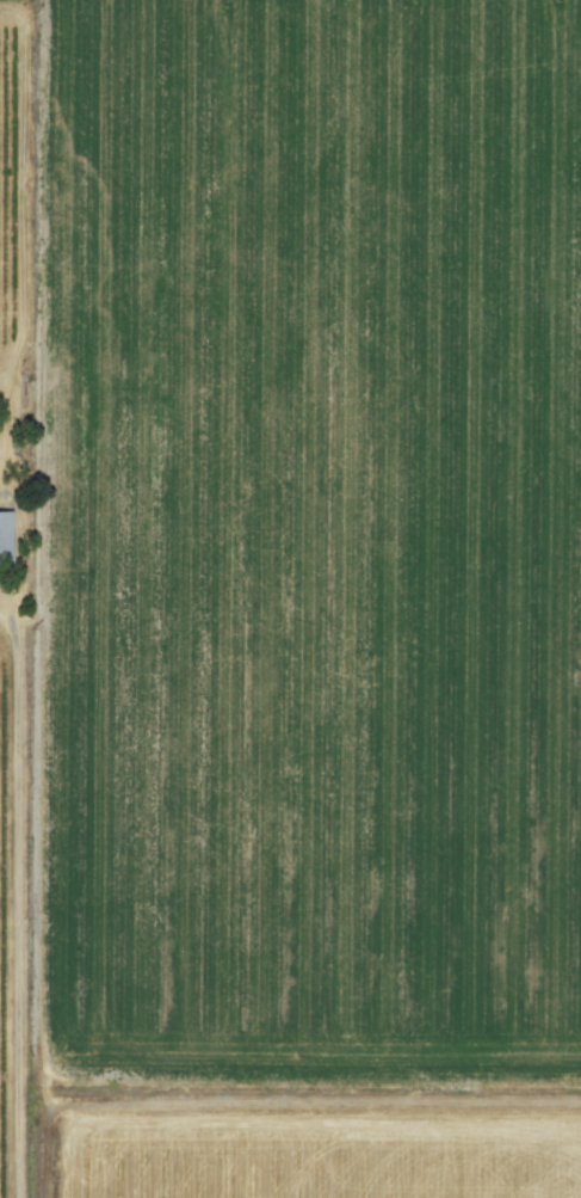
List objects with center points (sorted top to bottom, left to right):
road: (27, 189)
building: (6, 541)
road: (21, 913)

